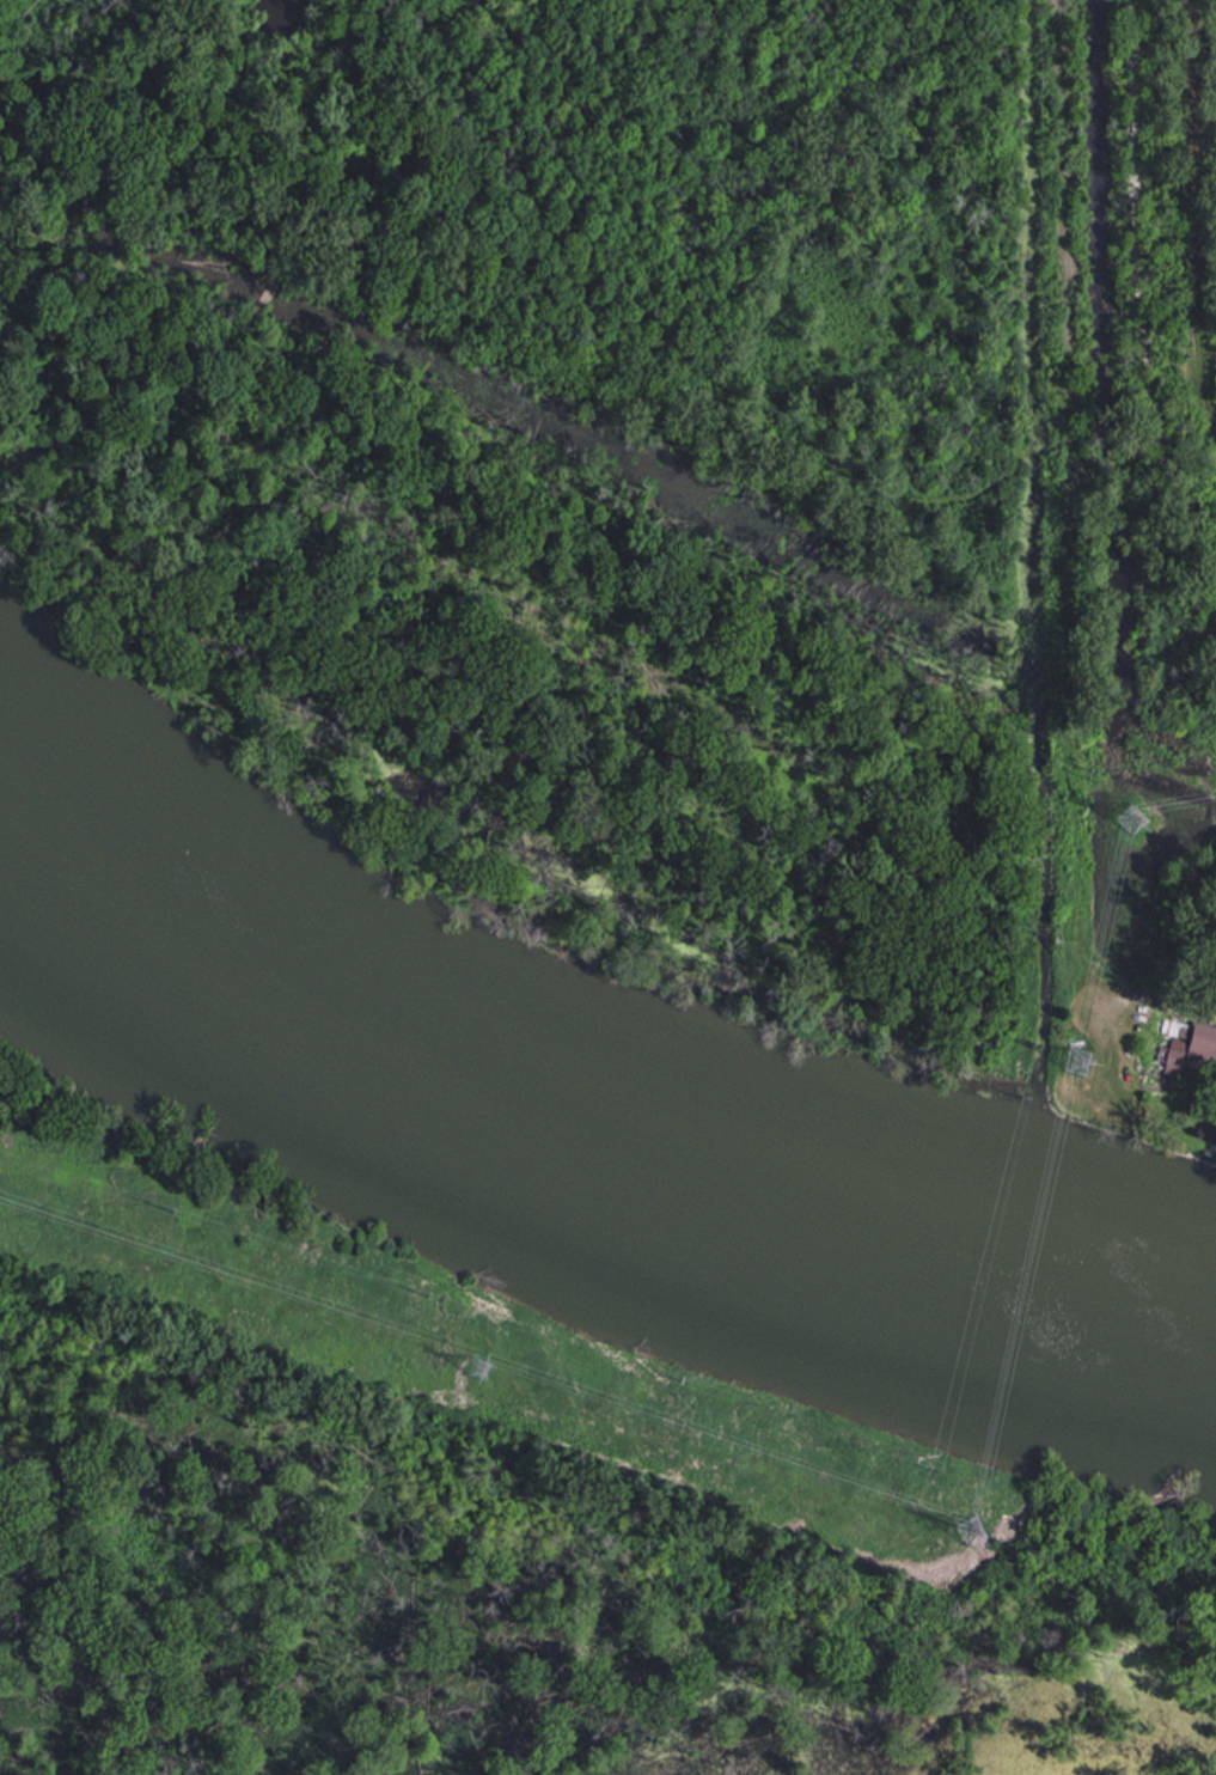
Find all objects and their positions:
road: (1141, 304)
park: (554, 452)
road: (1067, 561)
power tower: (1132, 819)
building: (1198, 1048)
river: (582, 1143)
road: (433, 1326)
power tower: (477, 1366)
power tower: (972, 1531)

